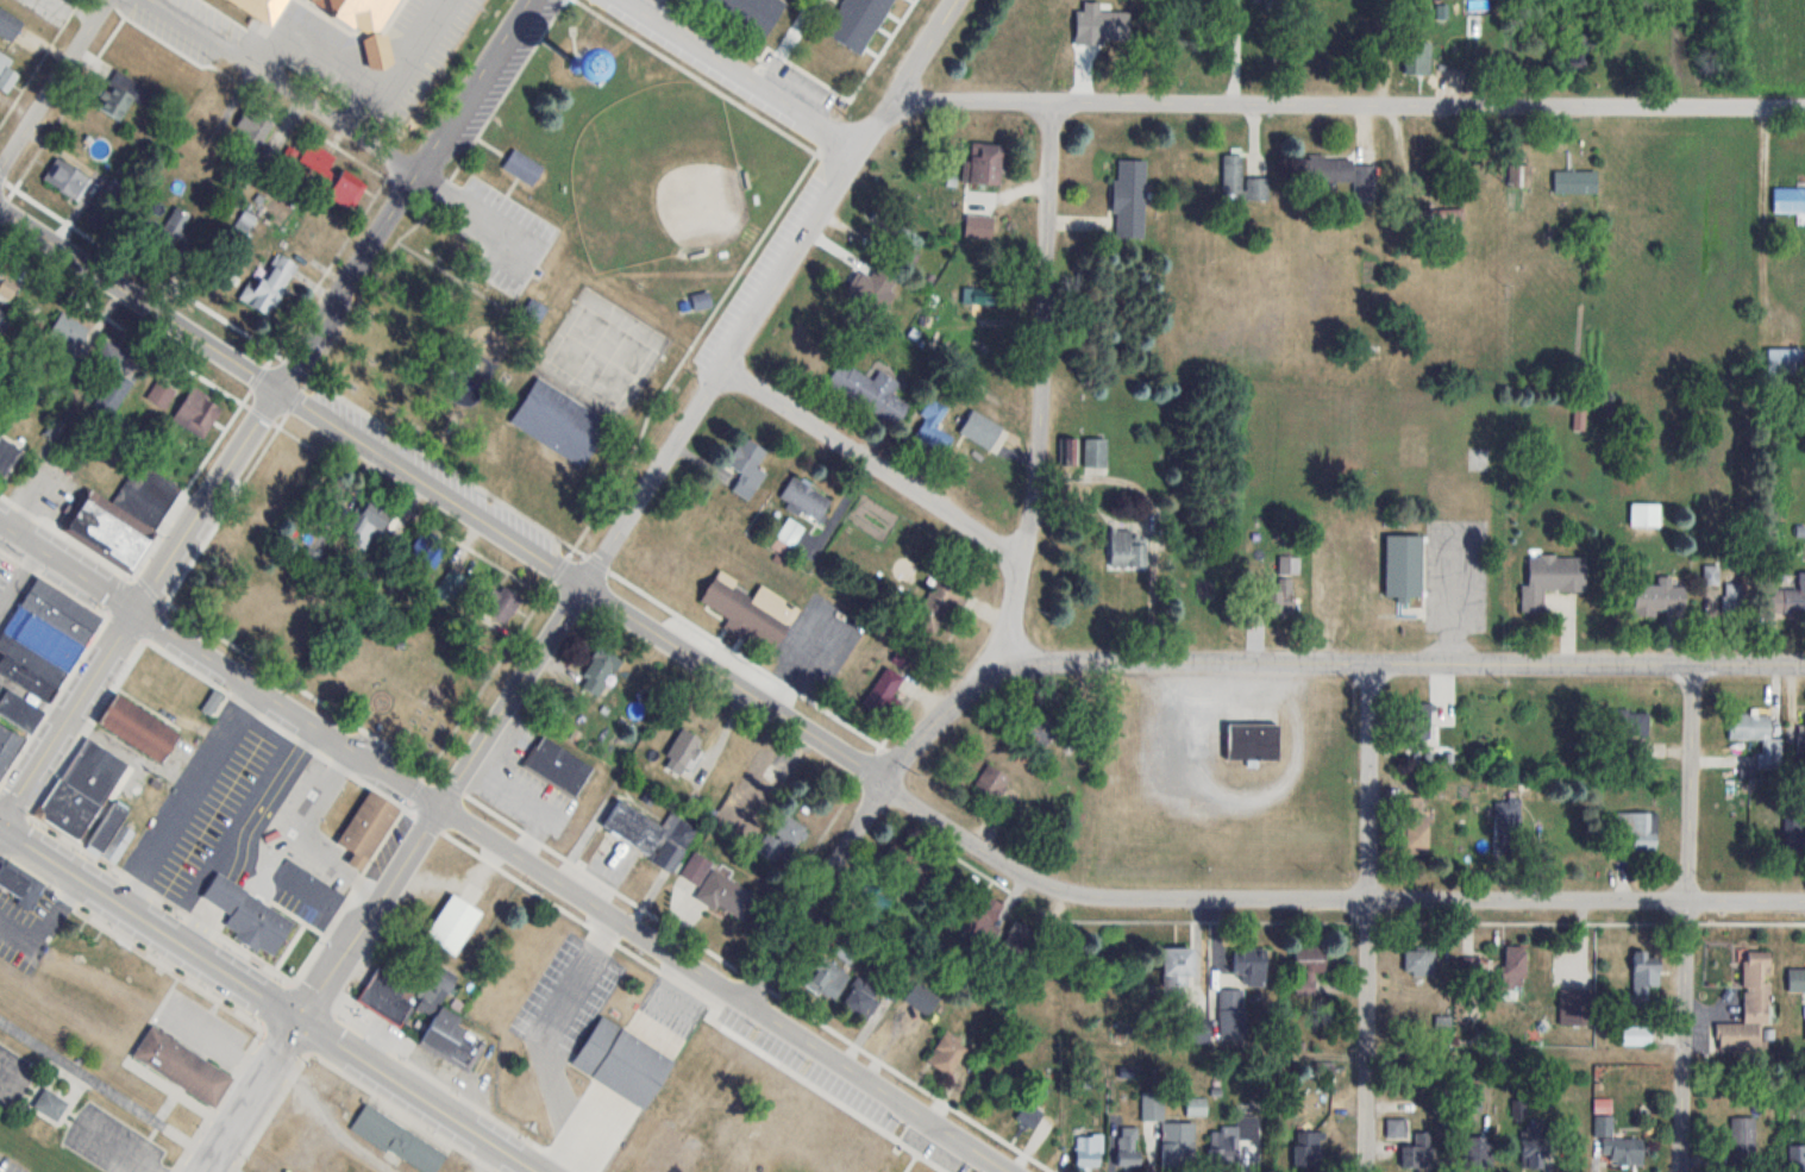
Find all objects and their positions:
building: (263, 8)
building: (748, 12)
building: (854, 20)
building: (8, 24)
building: (1474, 24)
building: (437, 26)
building: (1334, 37)
building: (1490, 46)
building: (1578, 54)
building: (1419, 55)
building: (345, 56)
building: (578, 56)
building: (156, 57)
water tower: (578, 58)
building: (6, 73)
road: (742, 73)
road: (909, 75)
road: (52, 82)
road: (288, 86)
building: (115, 96)
road: (1349, 102)
building: (251, 130)
building: (318, 157)
building: (984, 162)
building: (522, 168)
building: (1337, 170)
park: (657, 176)
building: (67, 178)
building: (1574, 180)
building: (1241, 181)
road: (437, 184)
building: (346, 188)
building: (1129, 198)
building: (1788, 200)
road: (502, 225)
building: (170, 226)
parking lot: (502, 234)
building: (904, 240)
park: (568, 269)
building: (269, 283)
building: (10, 284)
building: (978, 294)
building: (701, 300)
building: (4, 321)
building: (68, 330)
building: (806, 346)
park: (601, 355)
building: (1785, 361)
building: (112, 383)
building: (163, 390)
building: (869, 390)
road: (264, 409)
building: (198, 410)
building: (559, 422)
building: (933, 426)
building: (984, 431)
building: (1095, 452)
building: (7, 453)
building: (747, 456)
road: (871, 463)
building: (286, 477)
building: (334, 495)
building: (804, 500)
building: (1644, 514)
building: (123, 519)
building: (366, 521)
building: (789, 532)
building: (1126, 549)
building: (427, 550)
building: (1403, 566)
building: (1710, 574)
building: (1552, 578)
parking lot: (12, 584)
road: (584, 585)
road: (1015, 590)
road: (1454, 594)
building: (1280, 595)
building: (1734, 596)
building: (1788, 597)
building: (1659, 600)
building: (940, 603)
building: (501, 604)
building: (751, 609)
building: (252, 615)
building: (43, 638)
road: (1389, 663)
building: (600, 669)
building: (0, 682)
building: (883, 692)
building: (19, 710)
building: (1416, 715)
building: (1632, 721)
building: (137, 727)
building: (1038, 731)
building: (2, 732)
building: (1755, 733)
building: (1803, 733)
building: (1252, 740)
building: (7, 747)
building: (681, 751)
road: (840, 756)
building: (558, 765)
building: (93, 771)
building: (756, 779)
building: (991, 781)
building: (69, 808)
building: (1414, 825)
building: (107, 826)
building: (1794, 826)
building: (366, 827)
building: (1640, 832)
building: (651, 834)
building: (782, 834)
road: (504, 845)
building: (696, 867)
building: (20, 884)
building: (726, 895)
building: (873, 901)
building: (247, 915)
building: (979, 916)
road: (1367, 916)
road: (1687, 917)
building: (452, 923)
building: (847, 953)
building: (1419, 960)
building: (1251, 965)
building: (1513, 965)
building: (1308, 967)
building: (1178, 970)
building: (1562, 970)
building: (1644, 972)
building: (827, 978)
building: (1795, 979)
building: (387, 995)
building: (859, 996)
road: (268, 998)
building: (921, 998)
building: (1749, 1007)
traffic signals: (299, 1019)
building: (1202, 1032)
building: (443, 1033)
building: (1636, 1035)
building: (947, 1052)
building: (621, 1063)
building: (181, 1066)
building: (1322, 1068)
parking lot: (13, 1074)
road: (11, 1077)
road: (250, 1095)
road: (115, 1096)
building: (49, 1104)
building: (1152, 1107)
building: (1196, 1107)
building: (1029, 1114)
building: (1396, 1127)
building: (1742, 1137)
building: (396, 1139)
parking lot: (112, 1142)
building: (1236, 1143)
building: (1617, 1143)
building: (1178, 1145)
building: (1128, 1146)
road: (119, 1147)
building: (1309, 1148)
building: (1089, 1149)
building: (1418, 1152)
building: (1795, 1157)

